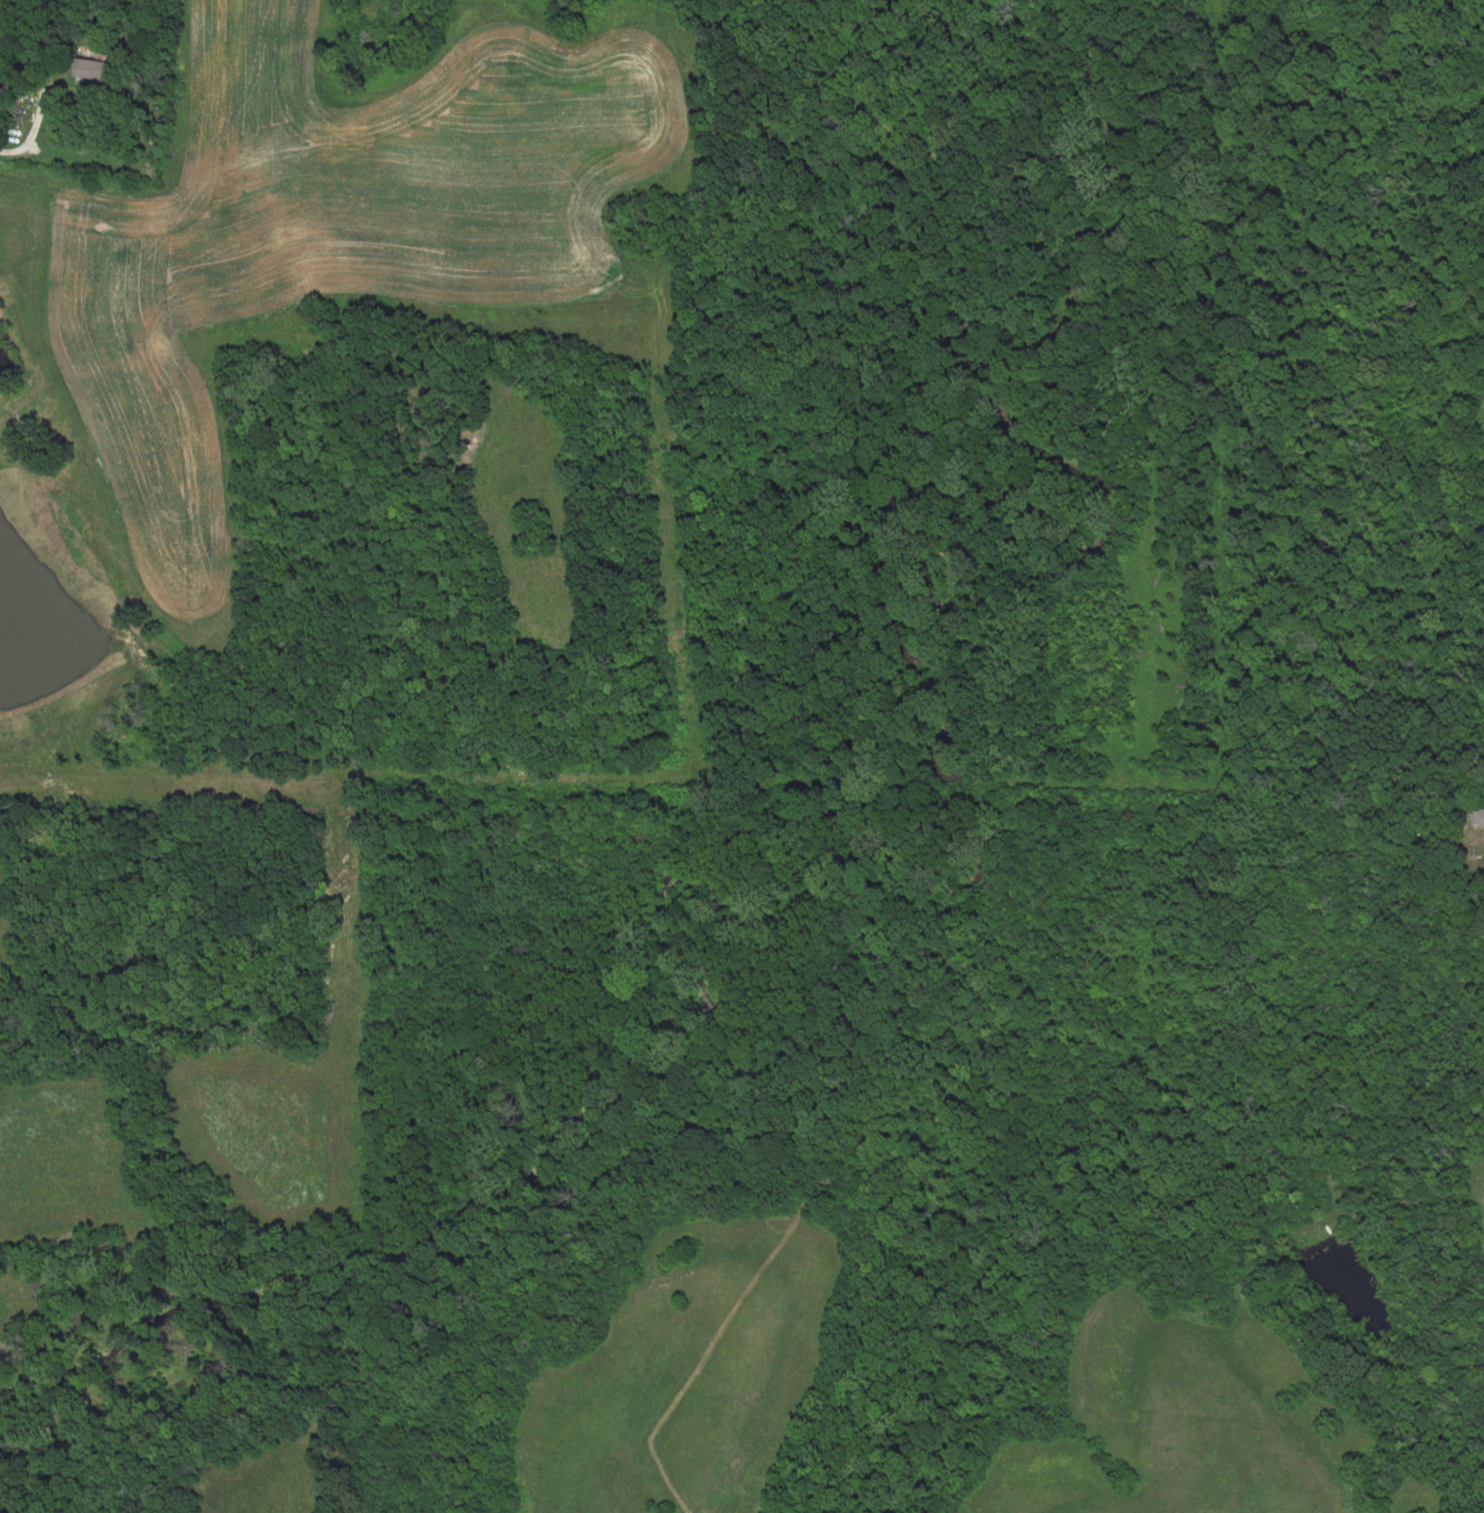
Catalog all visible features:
building: (95, 72)
road: (27, 135)
building: (1477, 818)

